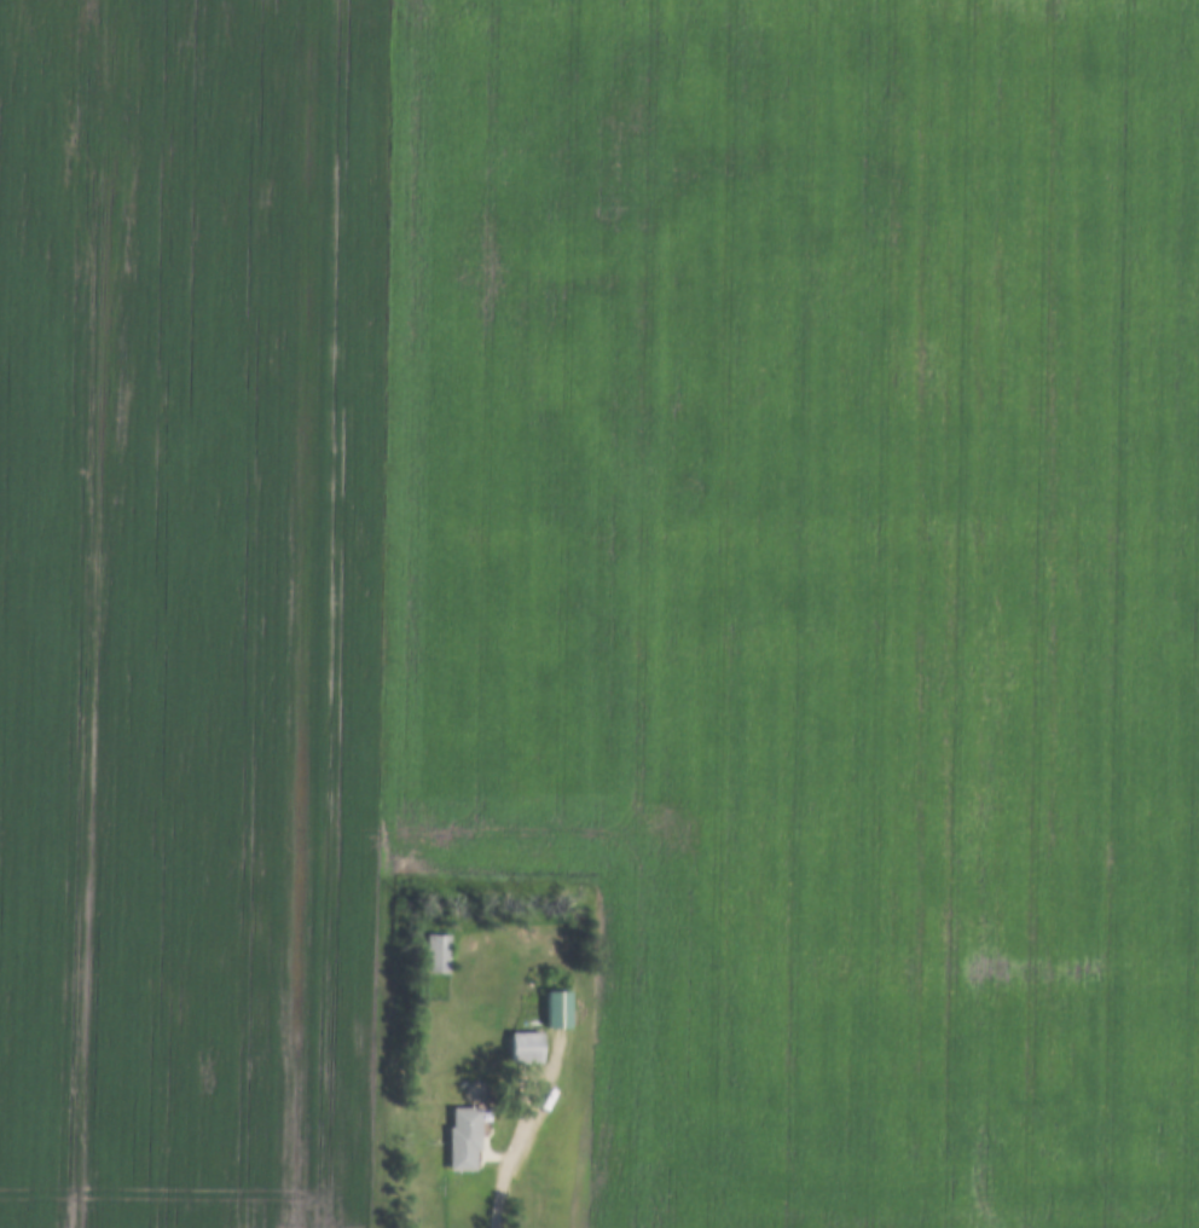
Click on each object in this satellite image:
crop: (812, 581)
crop: (187, 607)
building: (435, 952)
building: (555, 1008)
building: (525, 1047)
road: (522, 1130)
building: (463, 1136)

